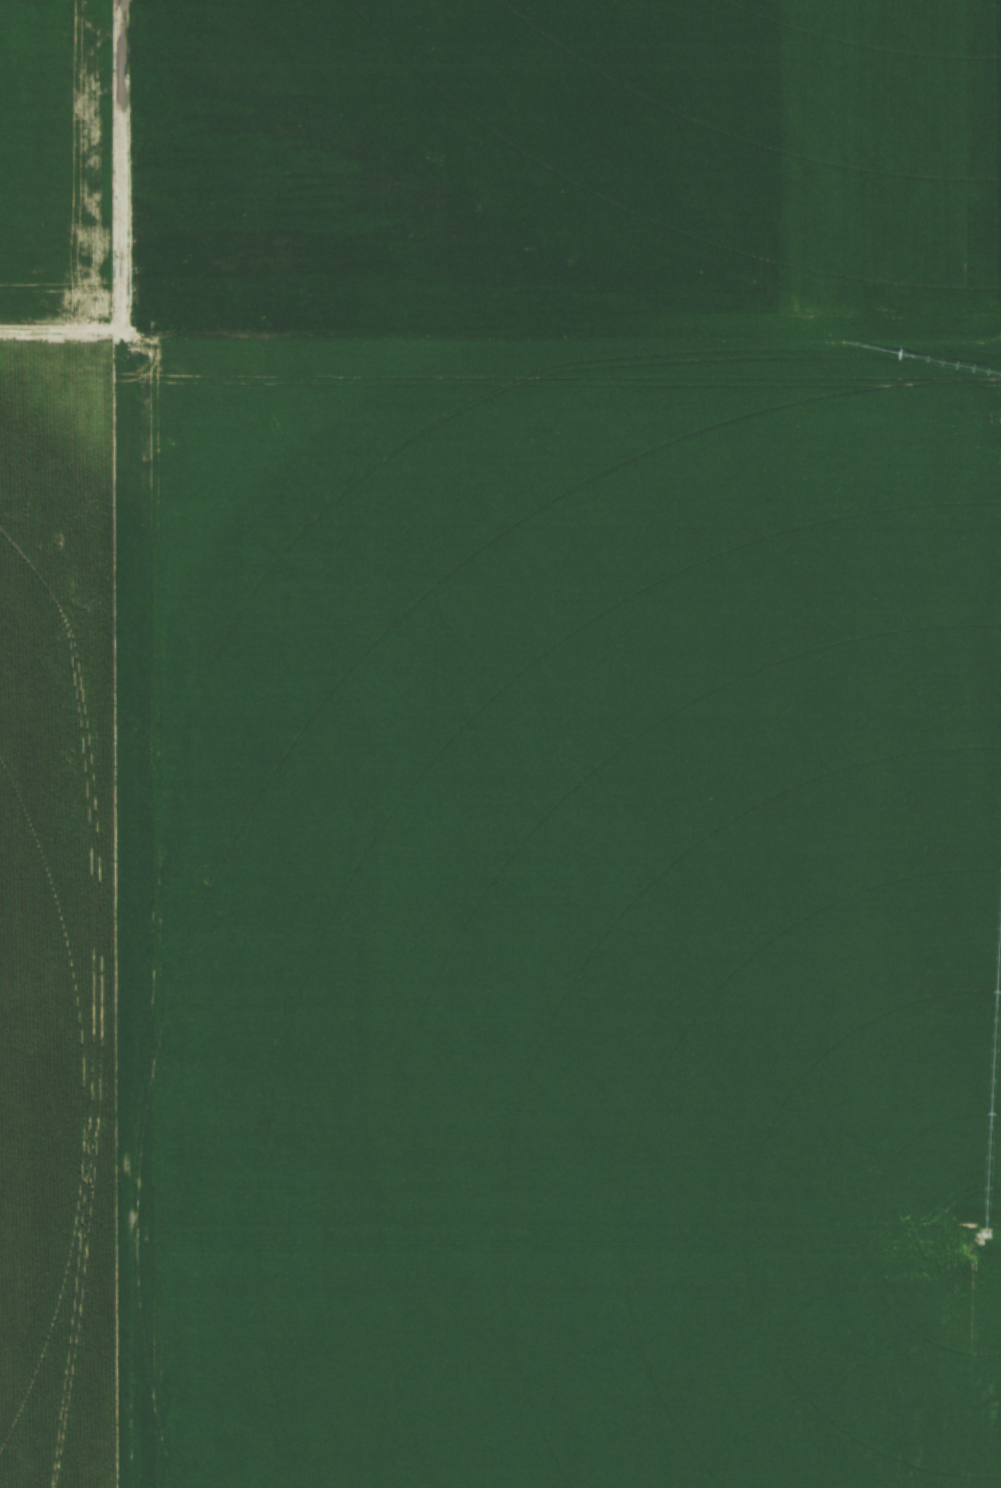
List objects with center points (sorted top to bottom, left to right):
road: (114, 220)
crop: (500, 744)

